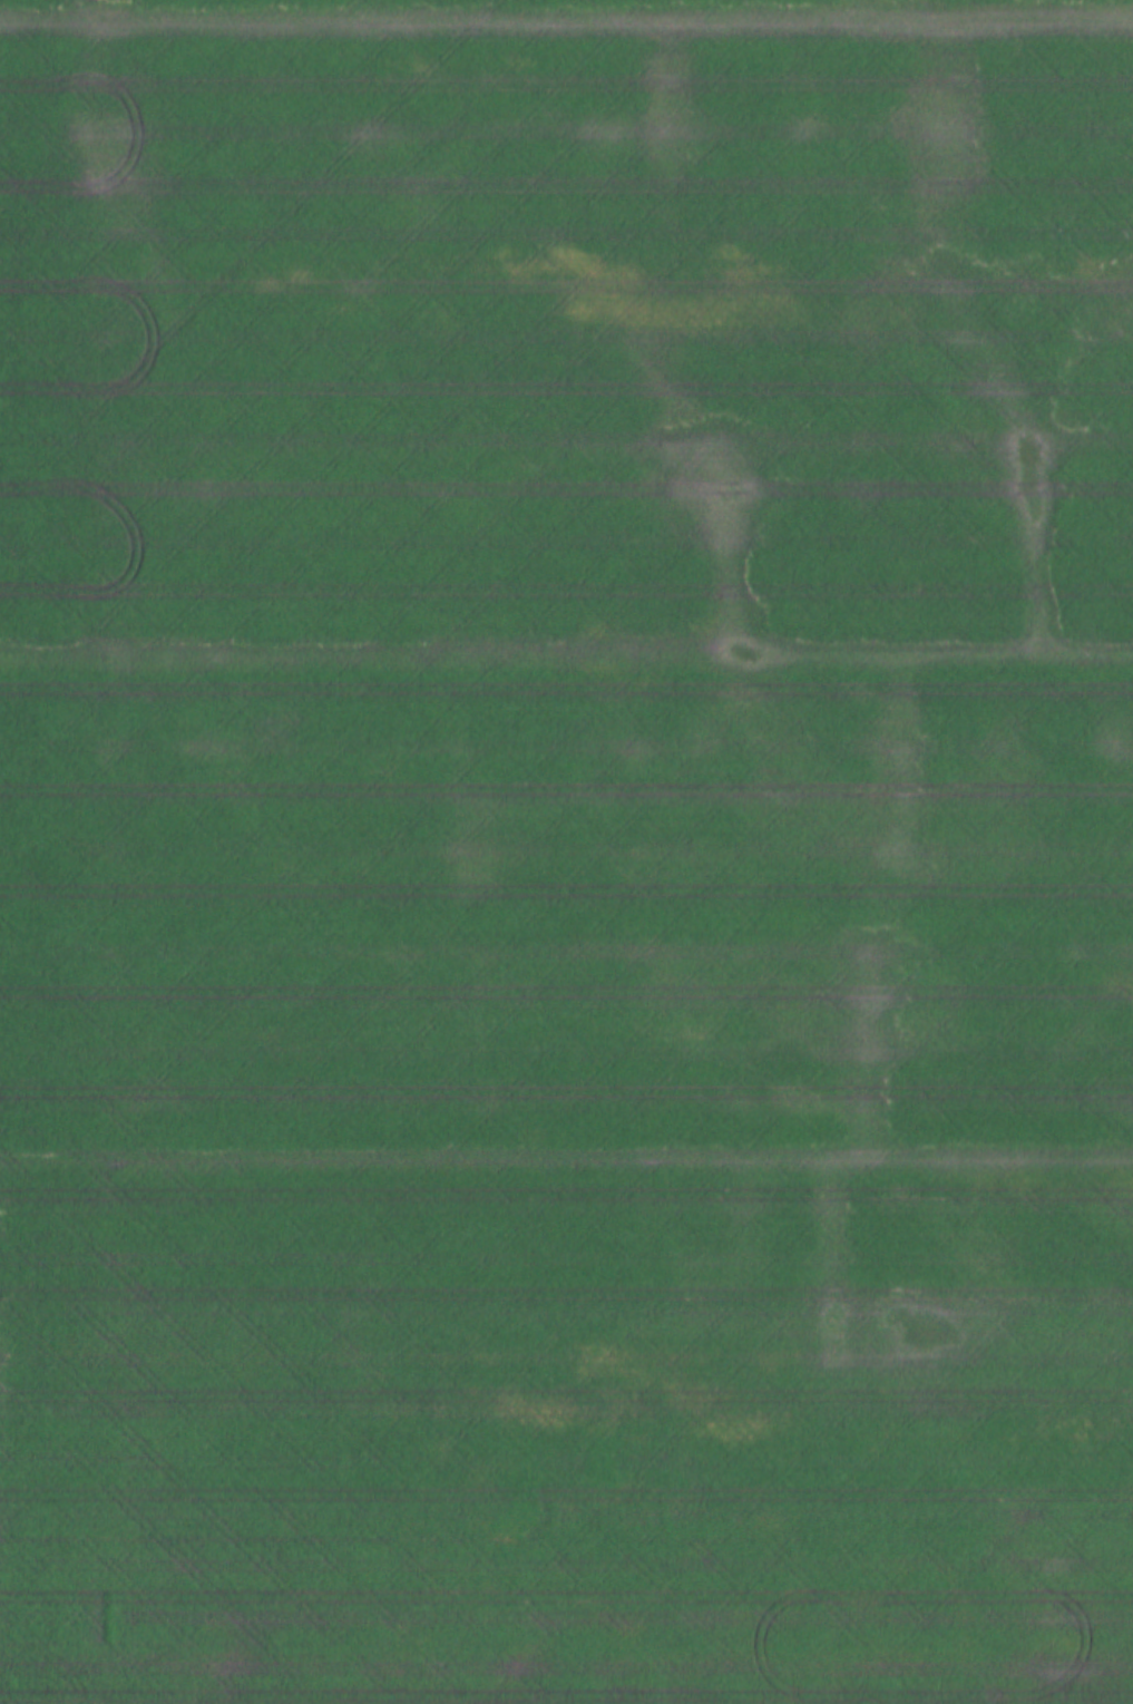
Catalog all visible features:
crop: (566, 851)

